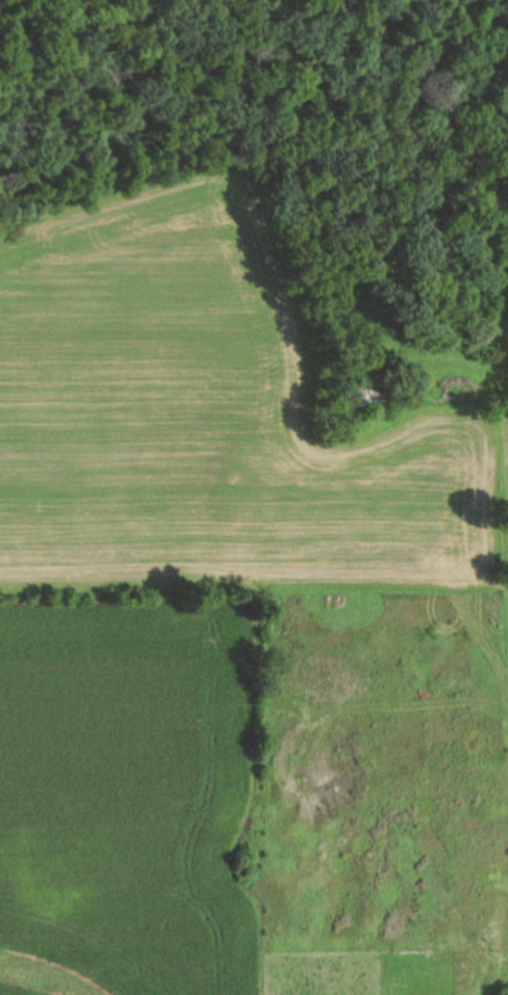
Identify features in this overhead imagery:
road: (488, 212)
road: (346, 280)
building: (364, 396)

